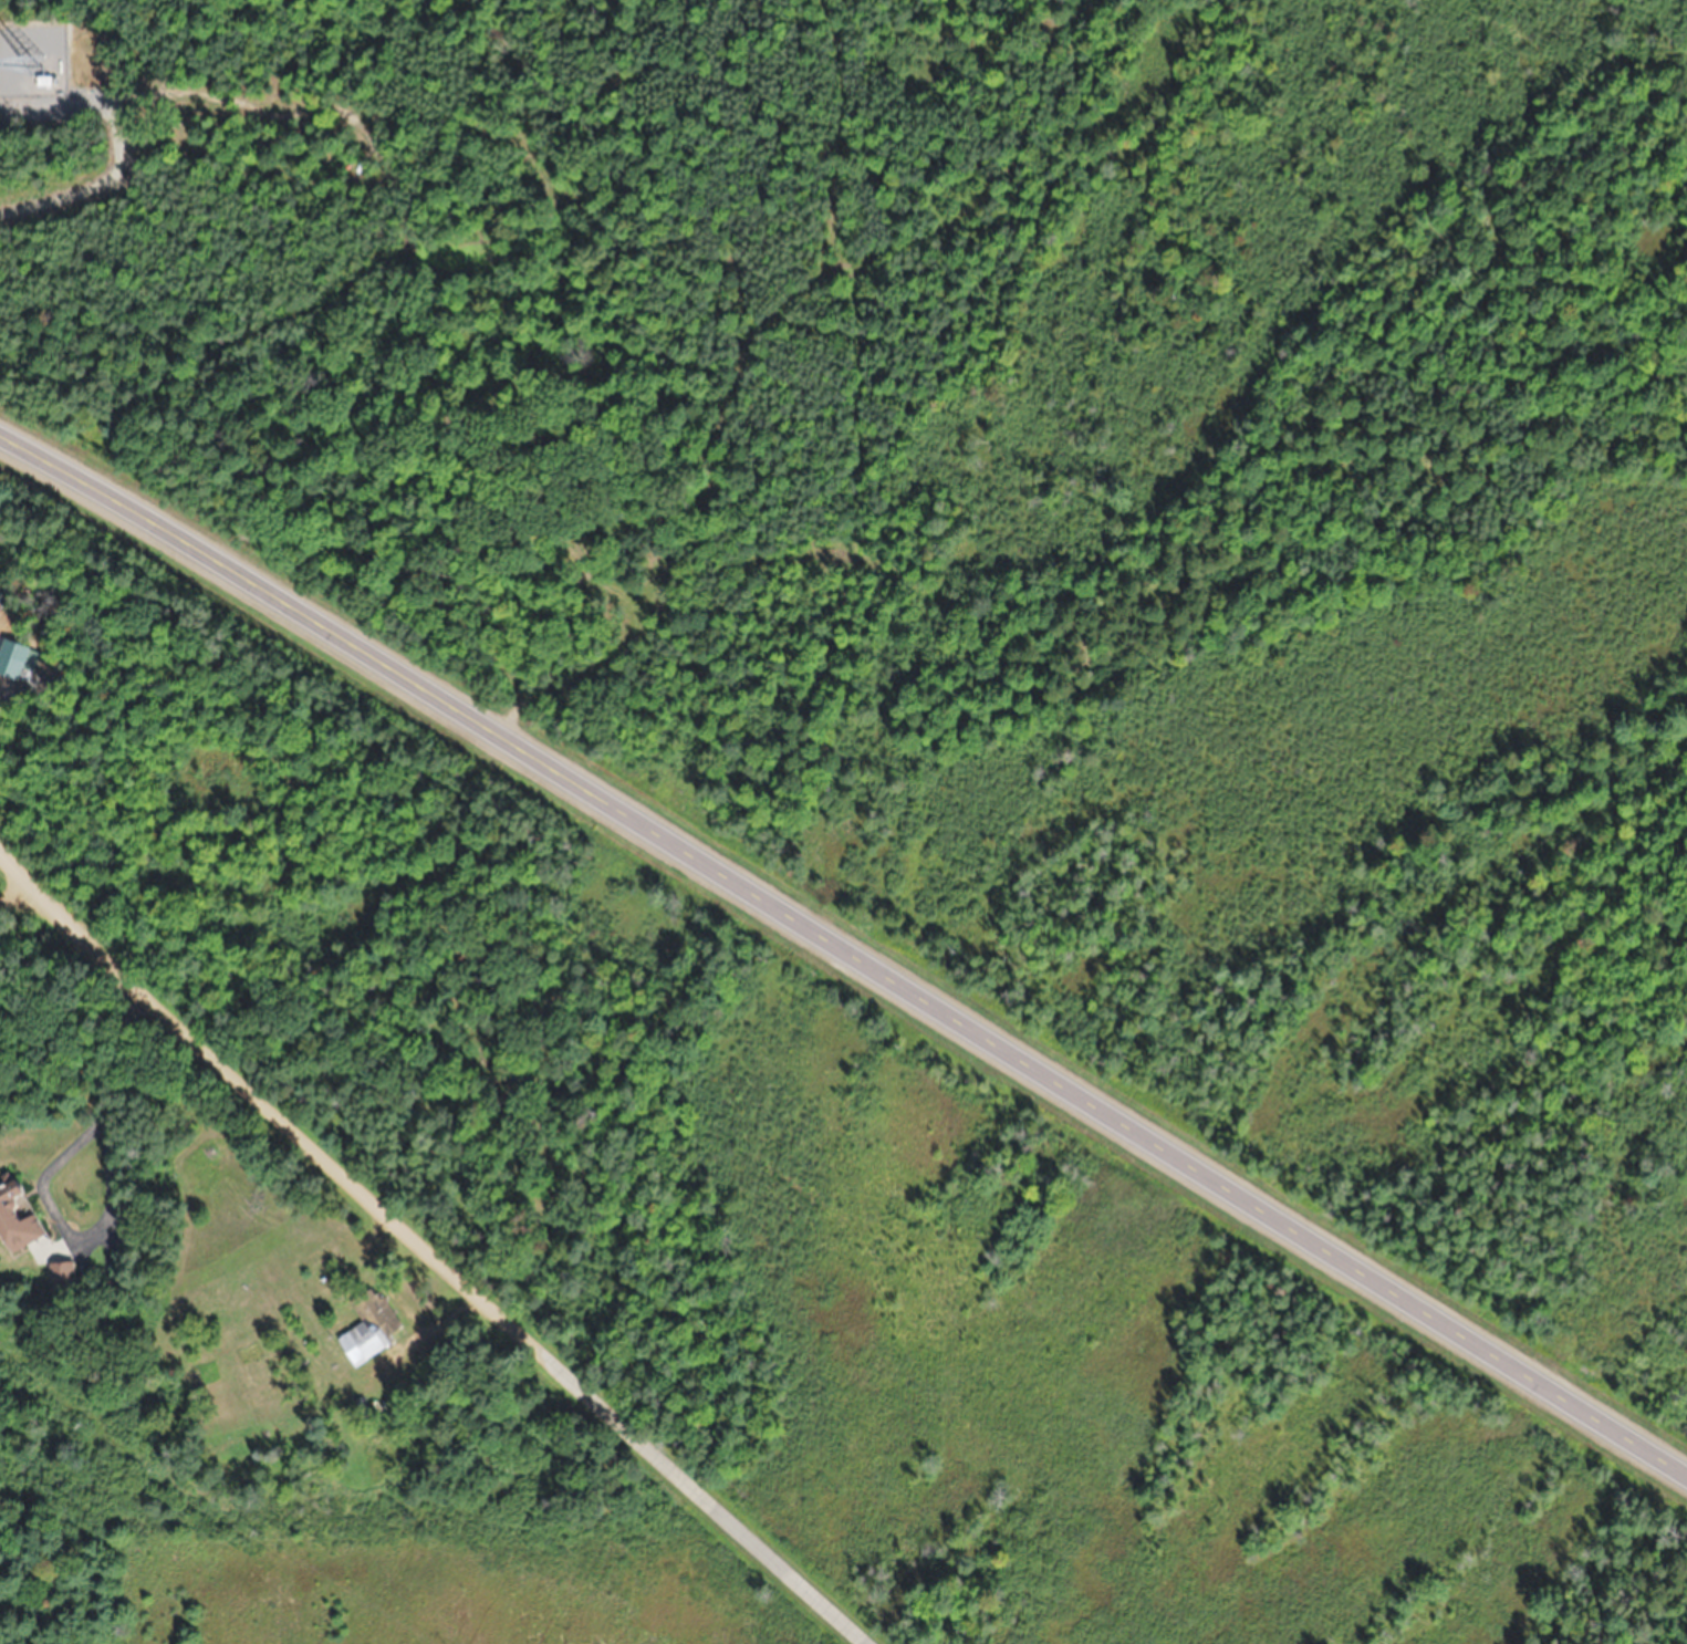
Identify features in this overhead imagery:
road: (17, 891)
road: (845, 948)
building: (14, 1217)
road: (430, 1252)
building: (61, 1274)
building: (368, 1326)

